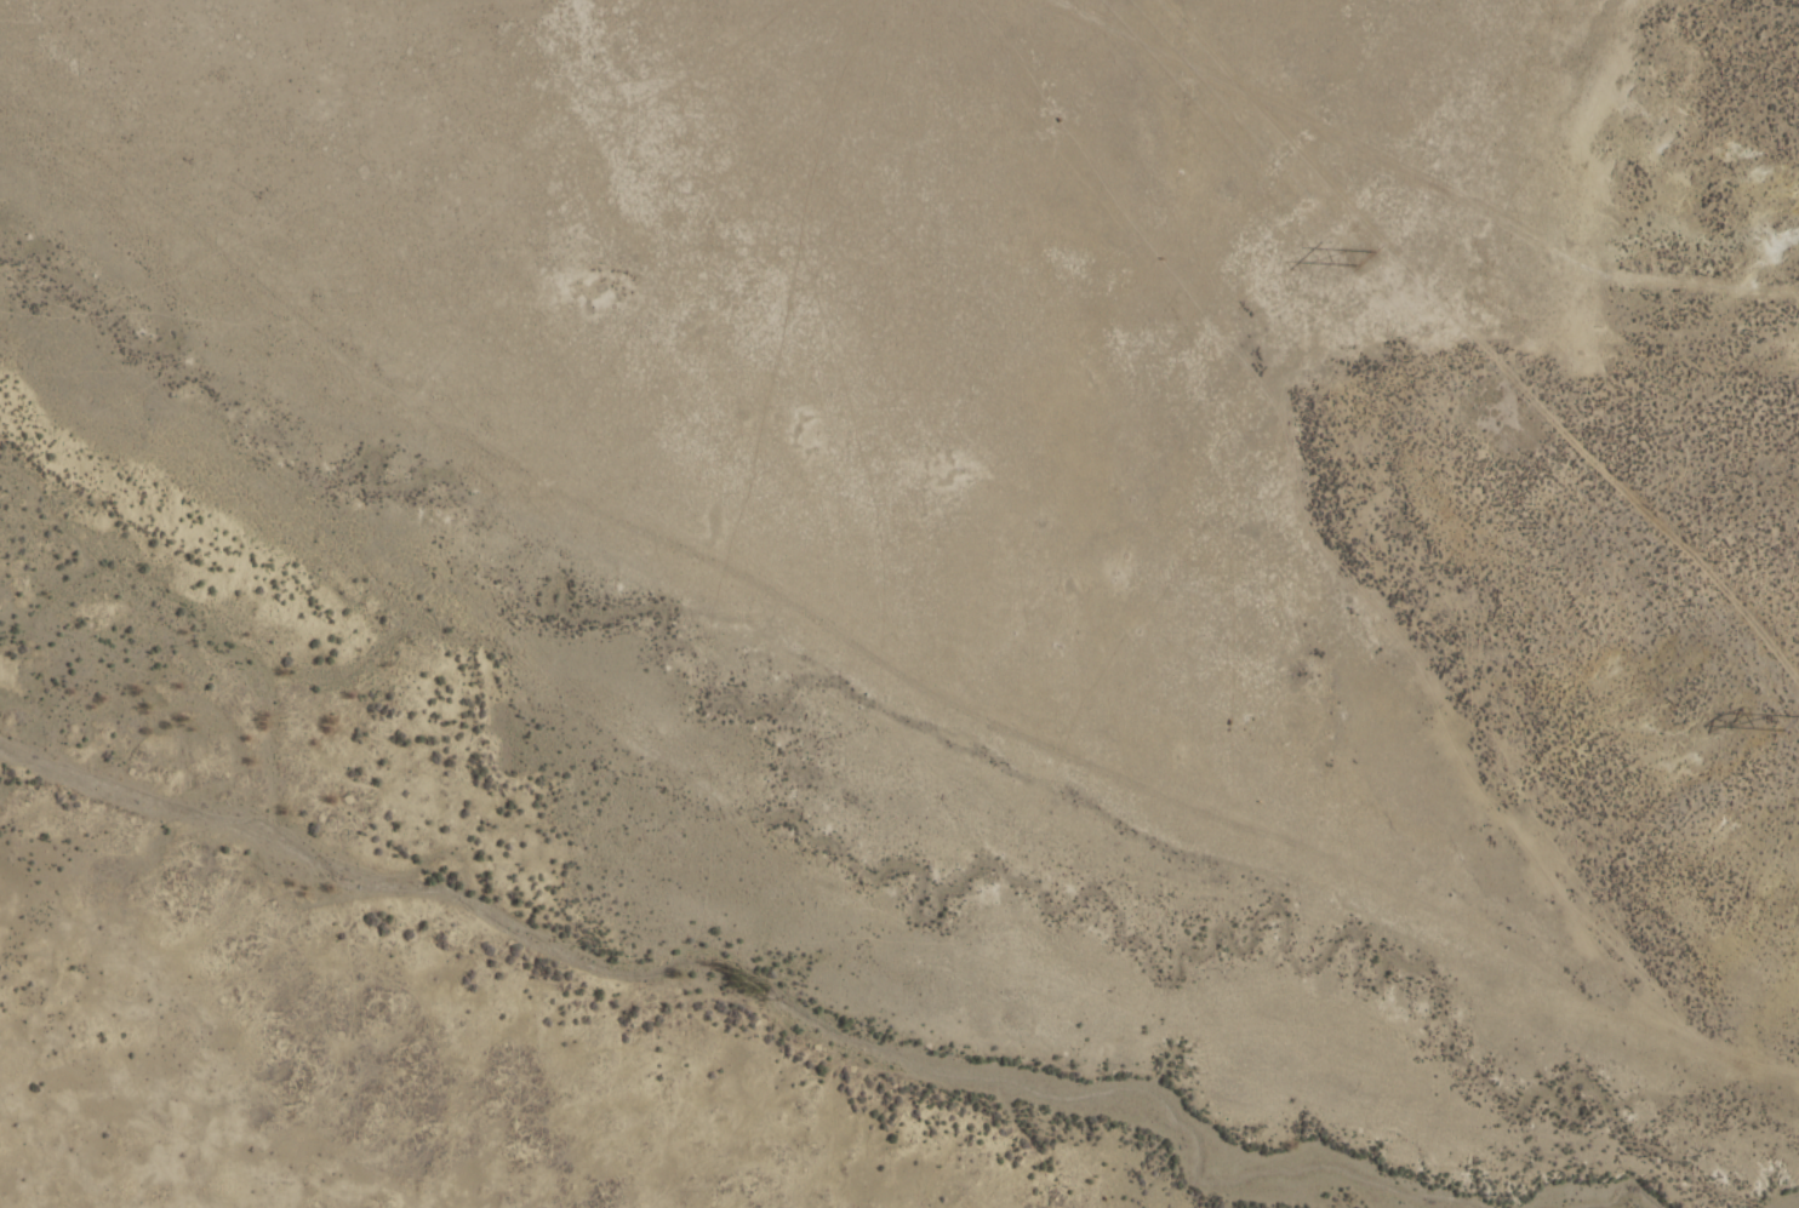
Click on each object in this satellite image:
power tower: (1355, 247)
power tower: (1780, 720)
river: (657, 1013)

